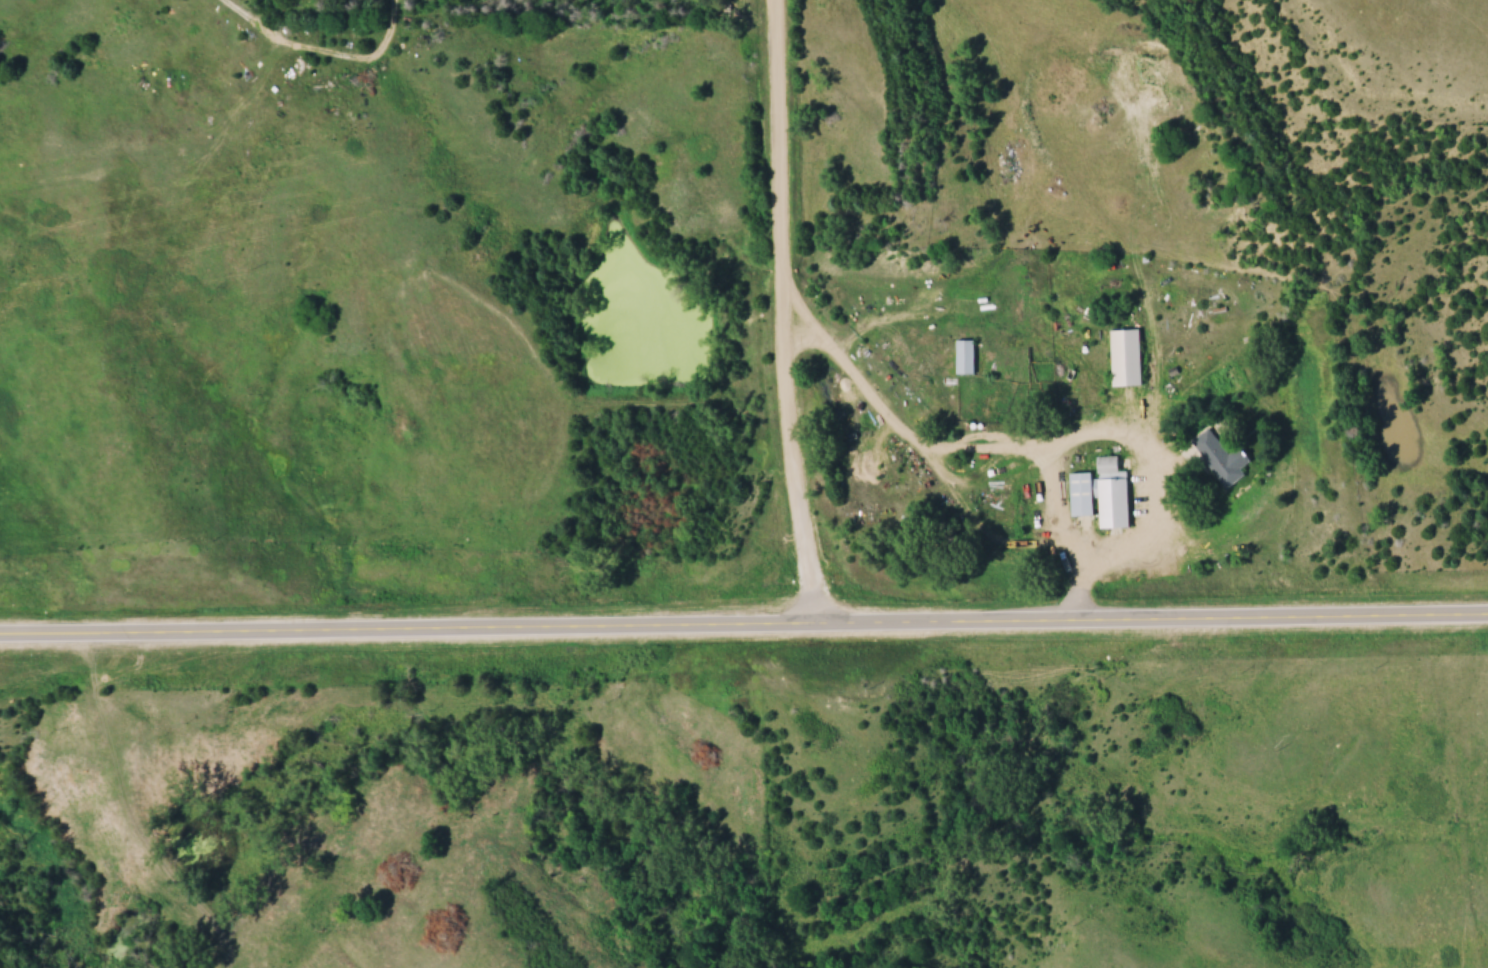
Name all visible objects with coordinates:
road: (784, 315)
building: (966, 356)
building: (1127, 358)
building: (1220, 455)
road: (1049, 473)
building: (1082, 492)
building: (1113, 493)
road: (744, 629)

